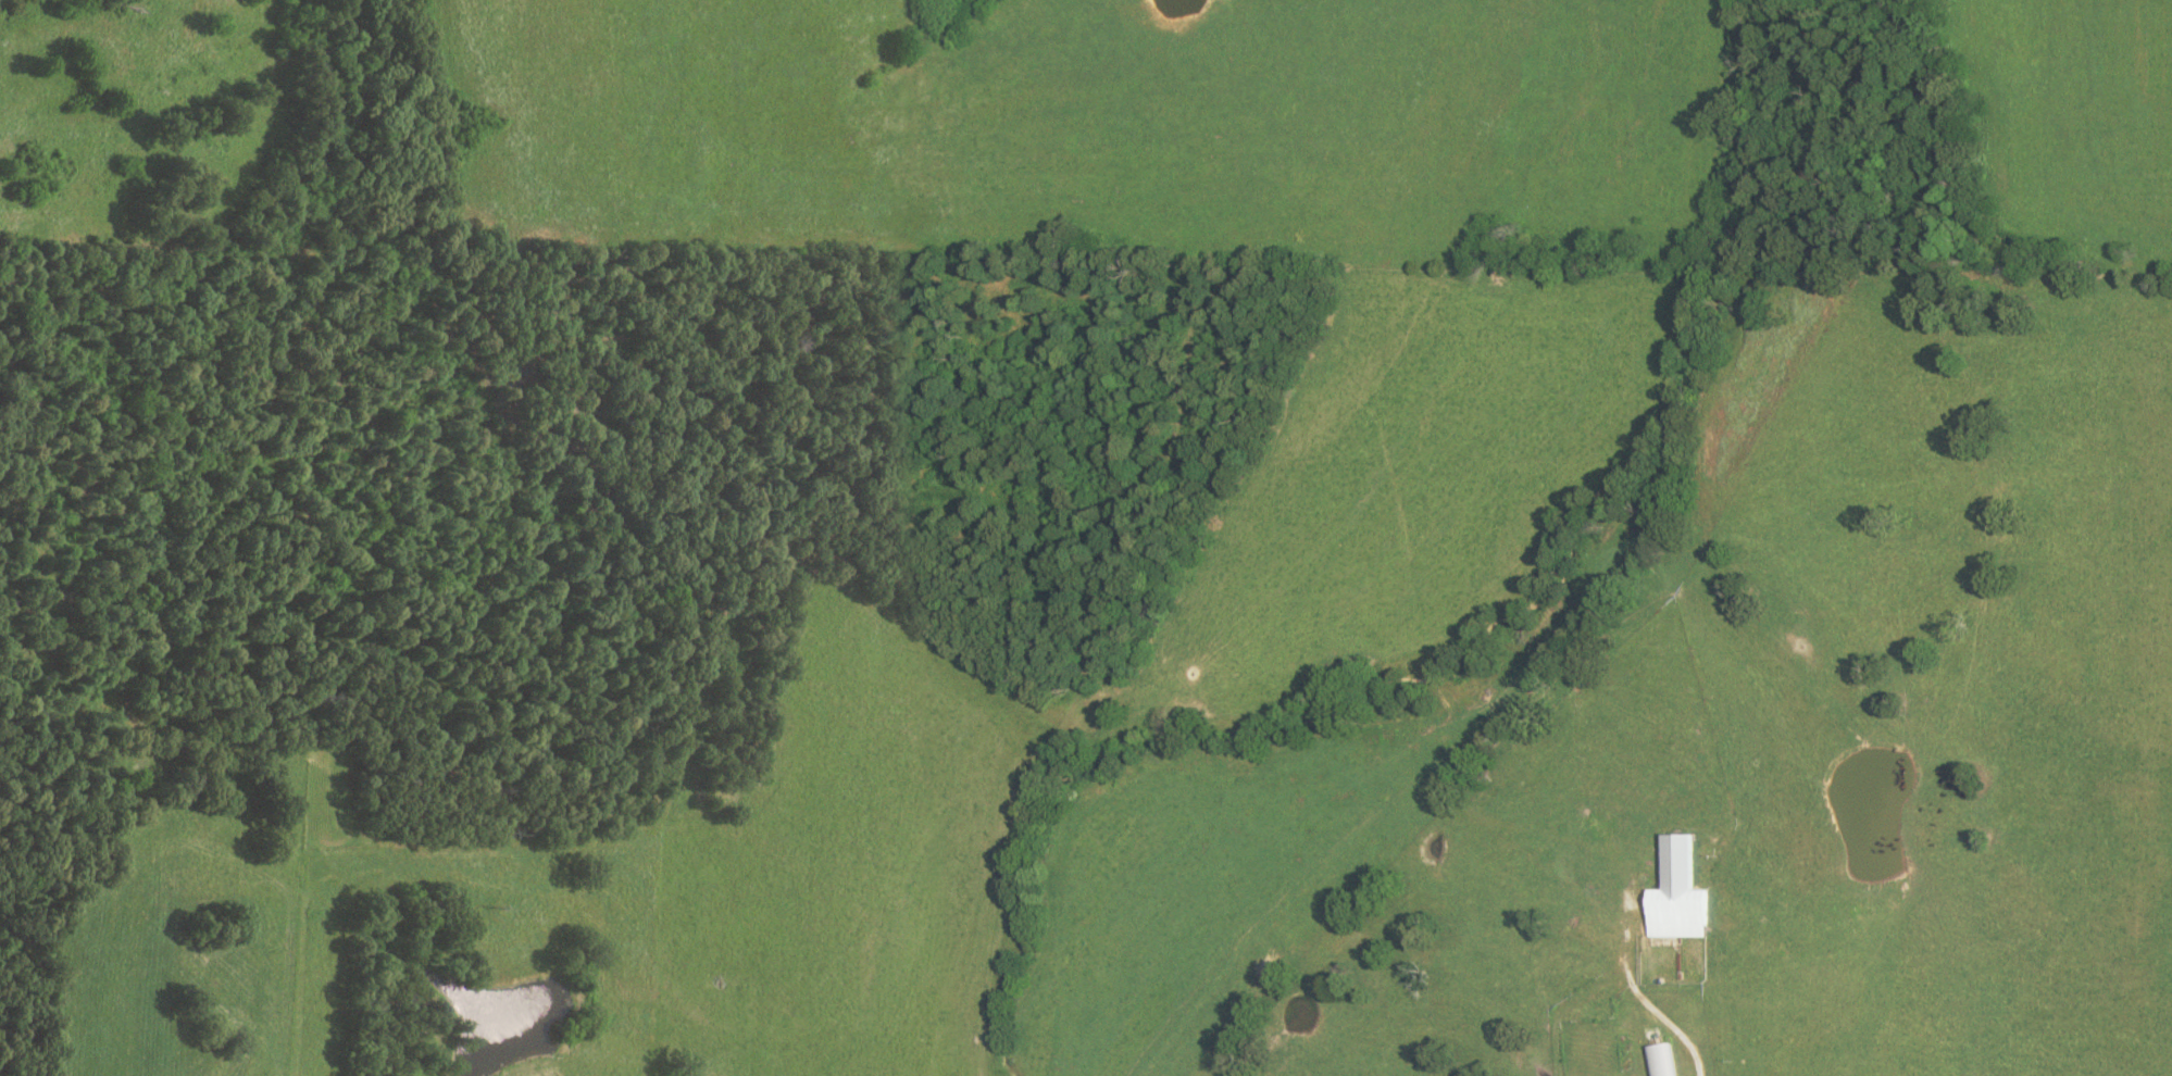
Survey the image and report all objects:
building: (1670, 896)
road: (1680, 1041)
building: (1657, 1061)

